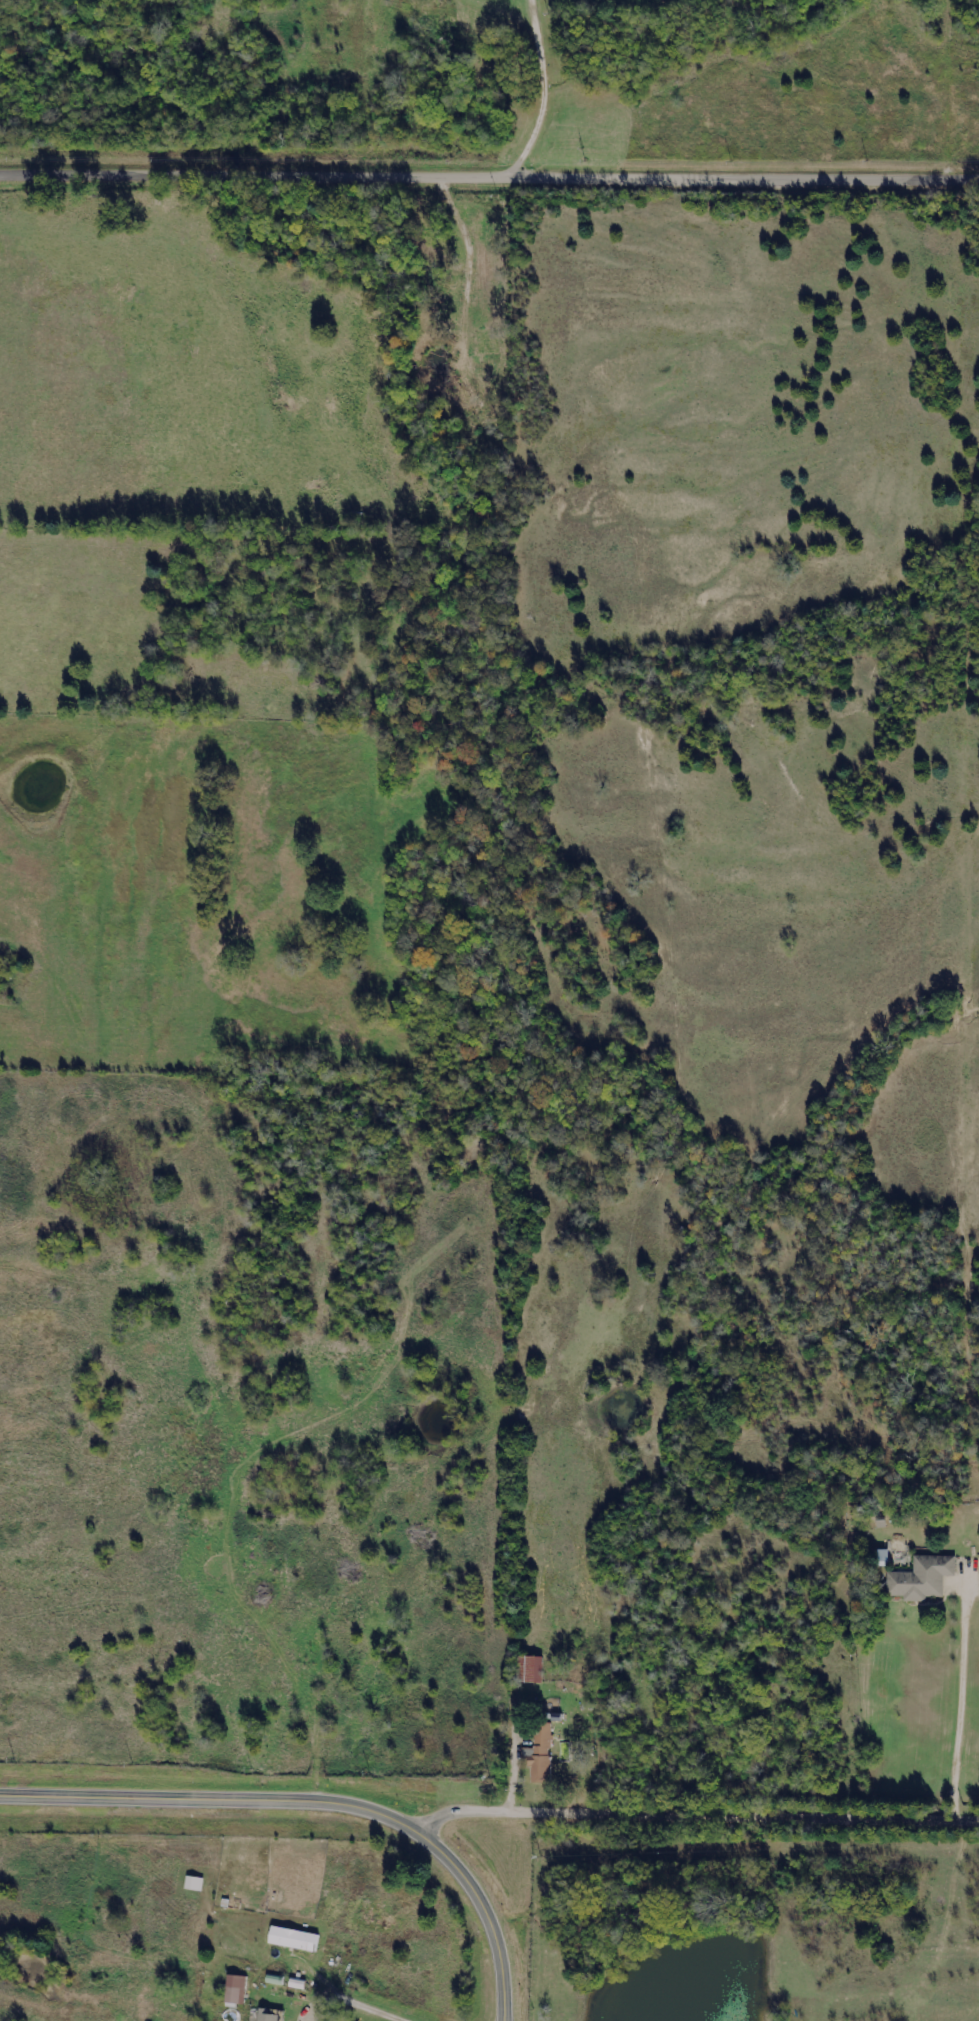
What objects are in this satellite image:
road: (544, 73)
road: (489, 169)
building: (919, 1580)
building: (527, 1671)
road: (958, 1688)
building: (537, 1756)
road: (508, 1770)
road: (319, 1801)
road: (693, 1811)
building: (291, 1940)
building: (239, 1988)
road: (361, 2000)
building: (265, 2017)

